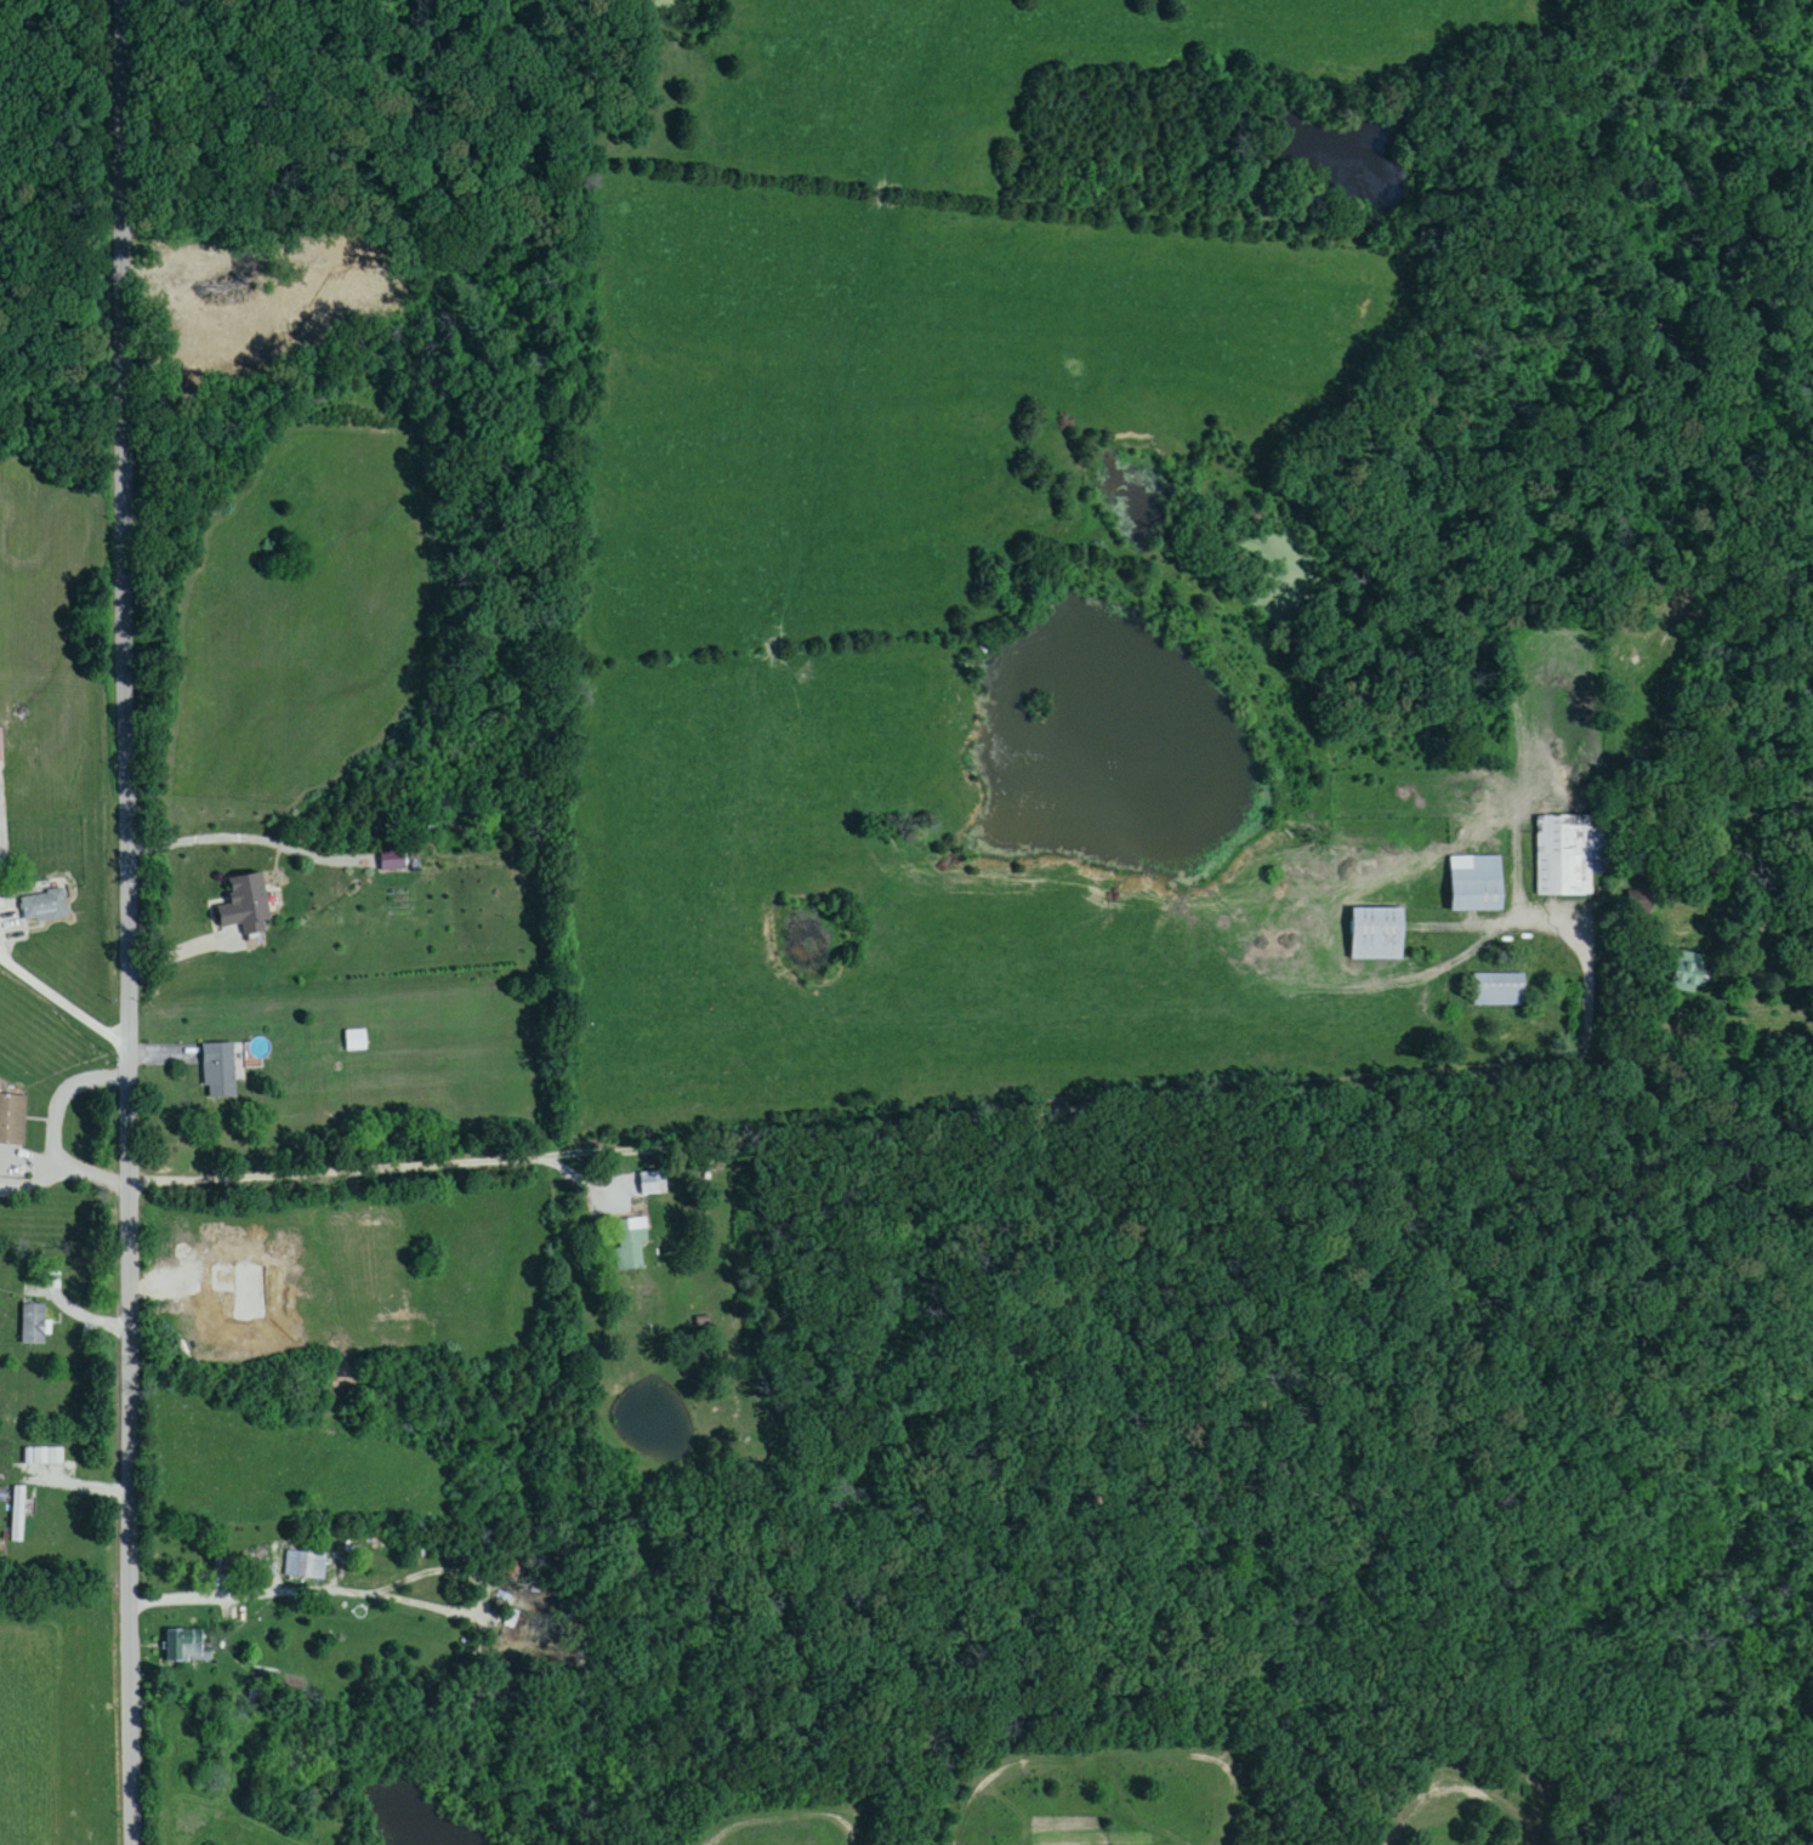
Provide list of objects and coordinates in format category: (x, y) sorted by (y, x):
road: (240, 832)
building: (1569, 854)
building: (392, 860)
building: (1476, 883)
building: (245, 905)
building: (44, 907)
road: (131, 922)
building: (1376, 934)
building: (1688, 972)
building: (1499, 990)
road: (66, 1006)
building: (357, 1041)
building: (218, 1071)
road: (984, 1098)
building: (12, 1120)
road: (57, 1129)
building: (653, 1184)
building: (631, 1246)
building: (34, 1325)
road: (66, 1486)
building: (18, 1515)
building: (305, 1565)
road: (201, 1593)
building: (184, 1646)

